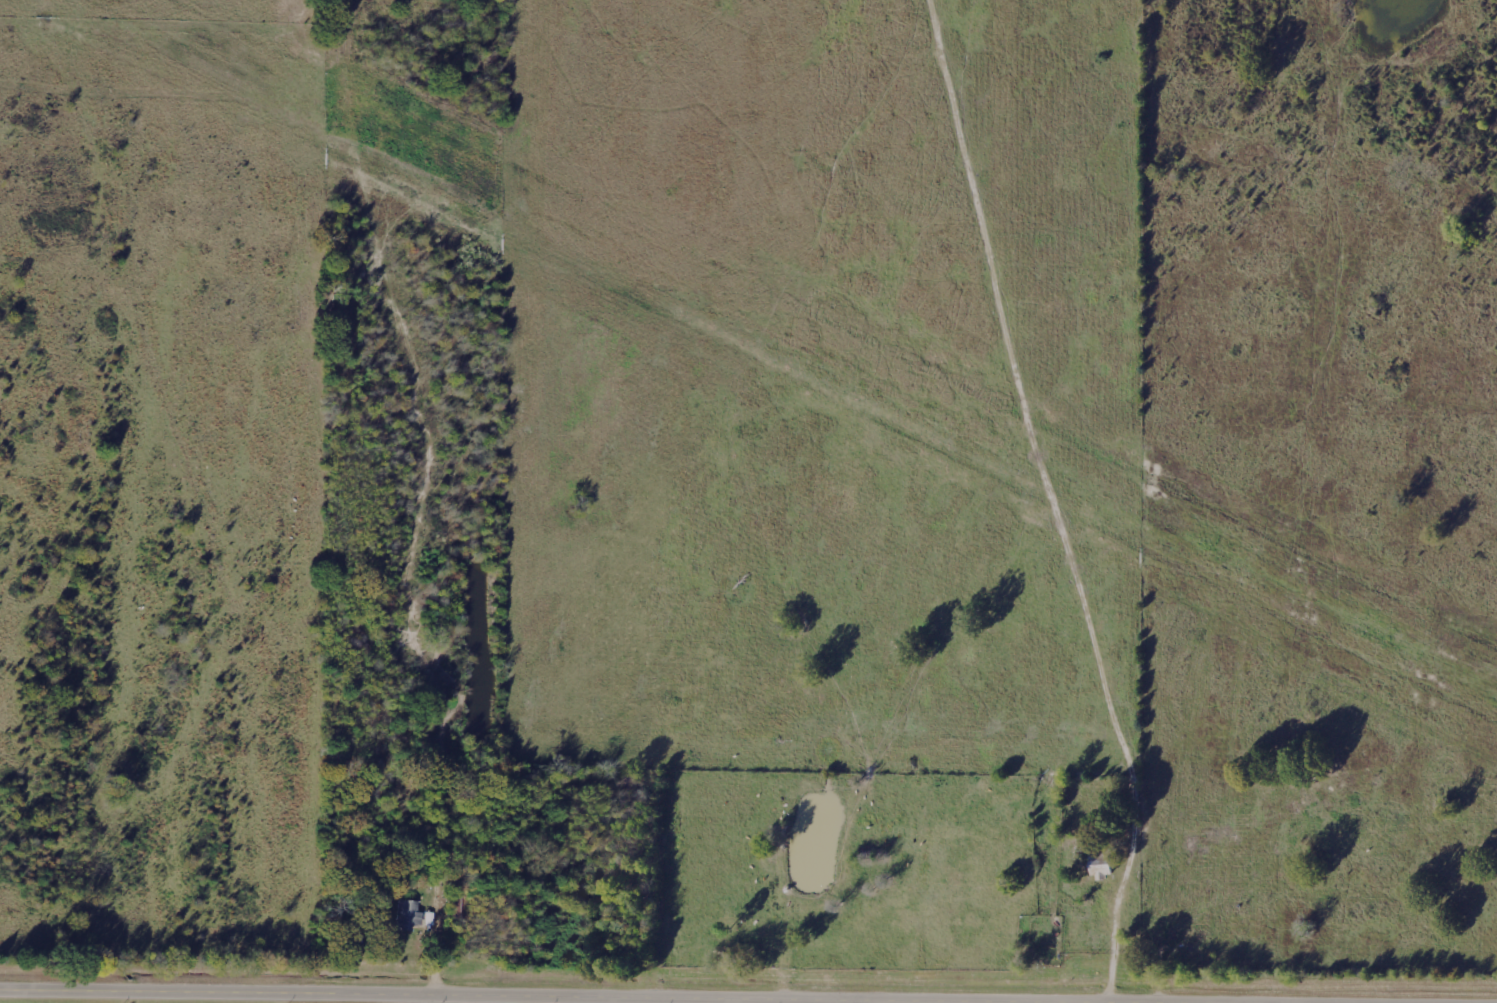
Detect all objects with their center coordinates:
road: (370, 999)

